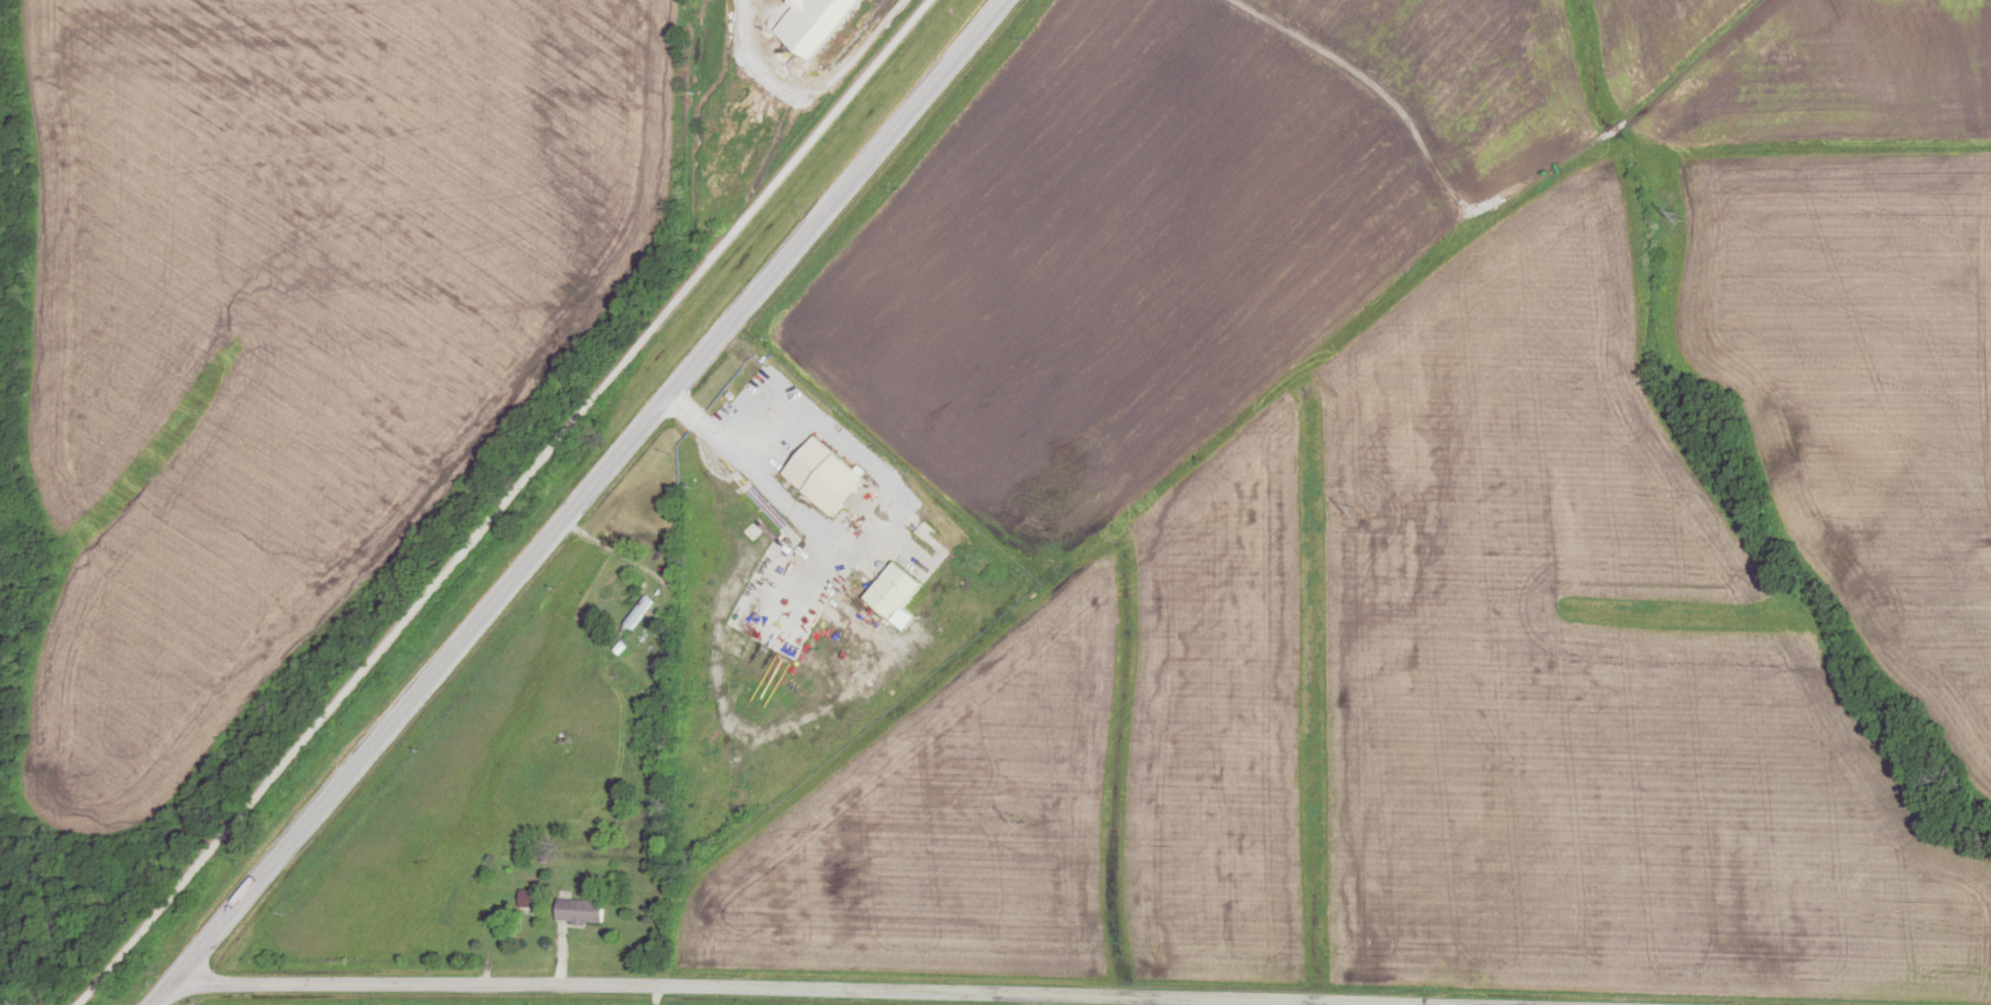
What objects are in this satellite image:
building: (813, 22)
crop: (1794, 73)
power tower: (1679, 221)
crop: (1169, 230)
building: (833, 474)
road: (579, 502)
road: (508, 503)
power tower: (1356, 511)
building: (904, 588)
building: (644, 611)
crop: (1591, 669)
crop: (1081, 769)
power tower: (1019, 822)
building: (532, 903)
building: (588, 910)
road: (686, 996)

